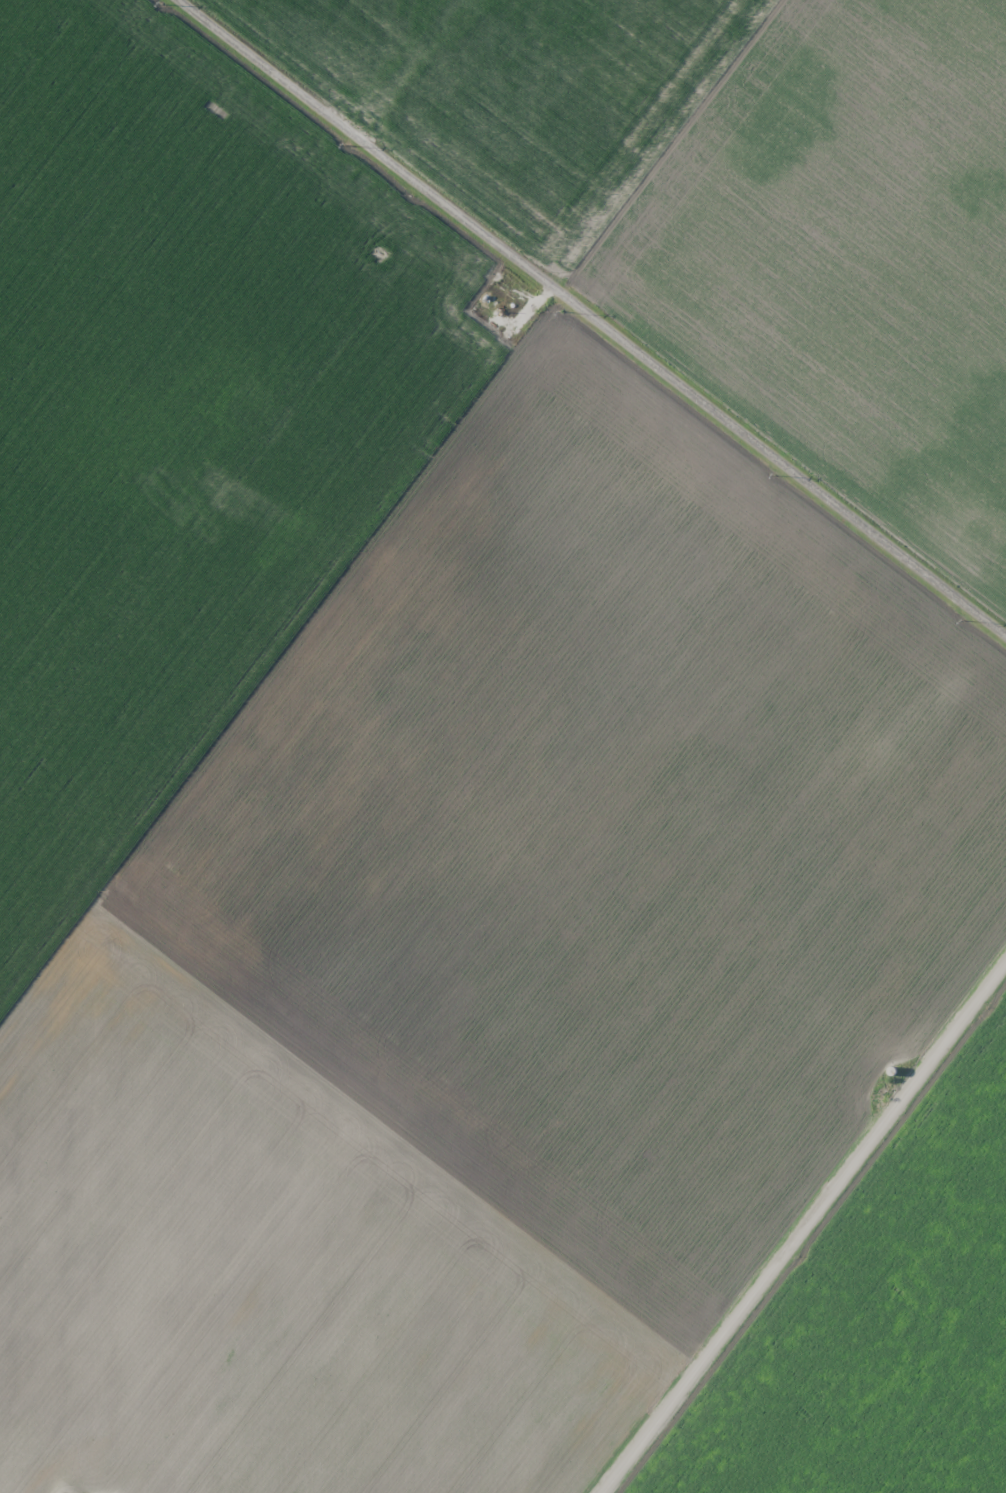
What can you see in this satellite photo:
road: (595, 316)
road: (811, 1237)

